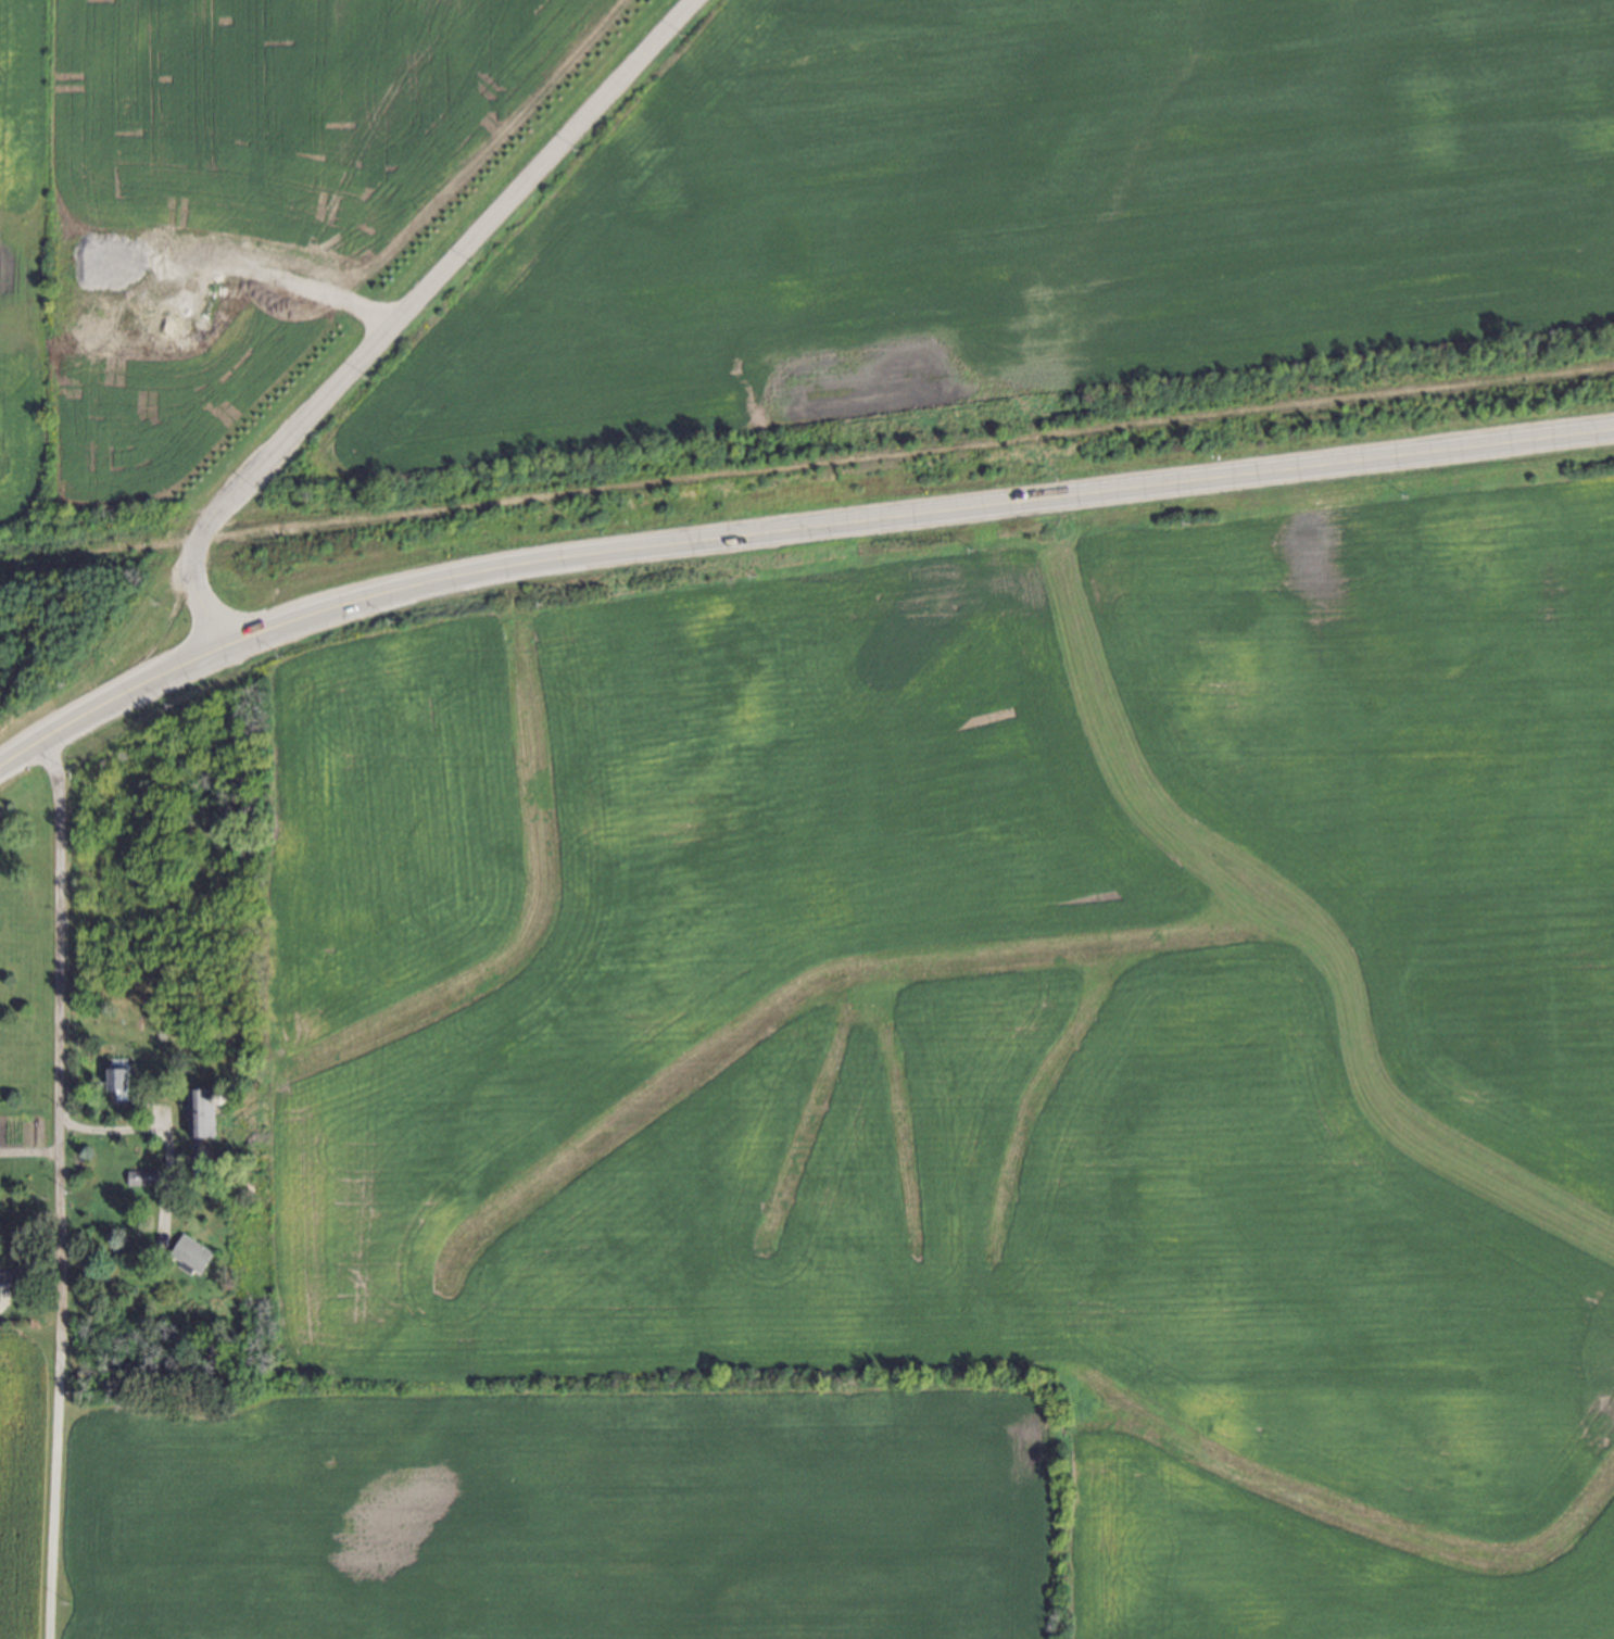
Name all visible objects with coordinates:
crop: (23, 274)
road: (286, 277)
road: (401, 310)
road: (787, 535)
building: (122, 1082)
building: (204, 1111)
road: (159, 1124)
road: (23, 1150)
building: (146, 1176)
road: (47, 1185)
building: (194, 1252)

